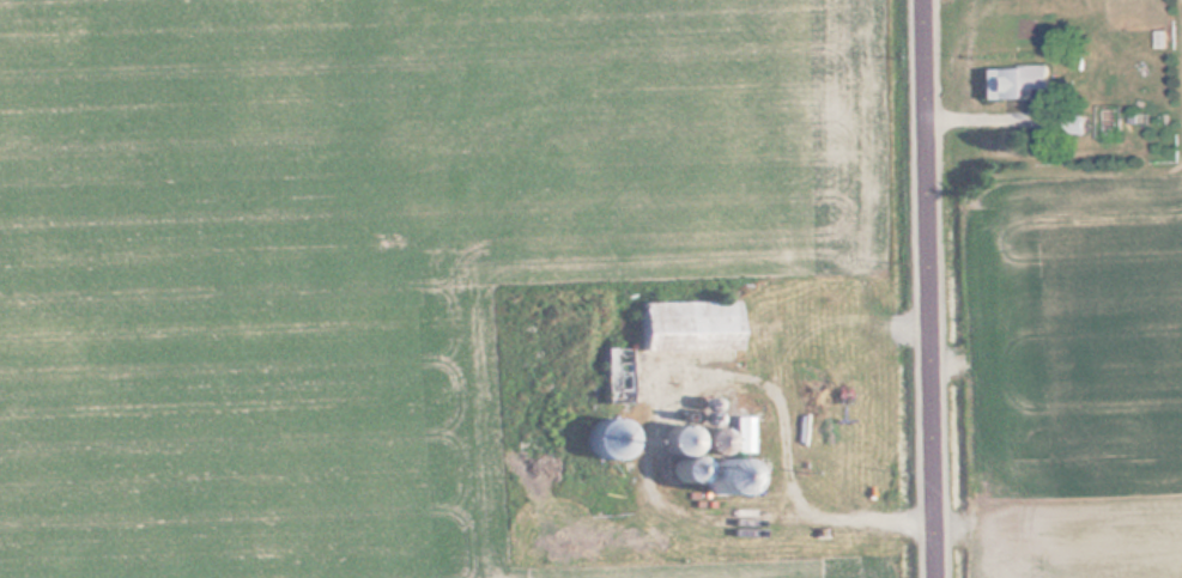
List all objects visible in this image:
building: (1016, 83)
road: (931, 288)
building: (692, 324)
building: (620, 375)

